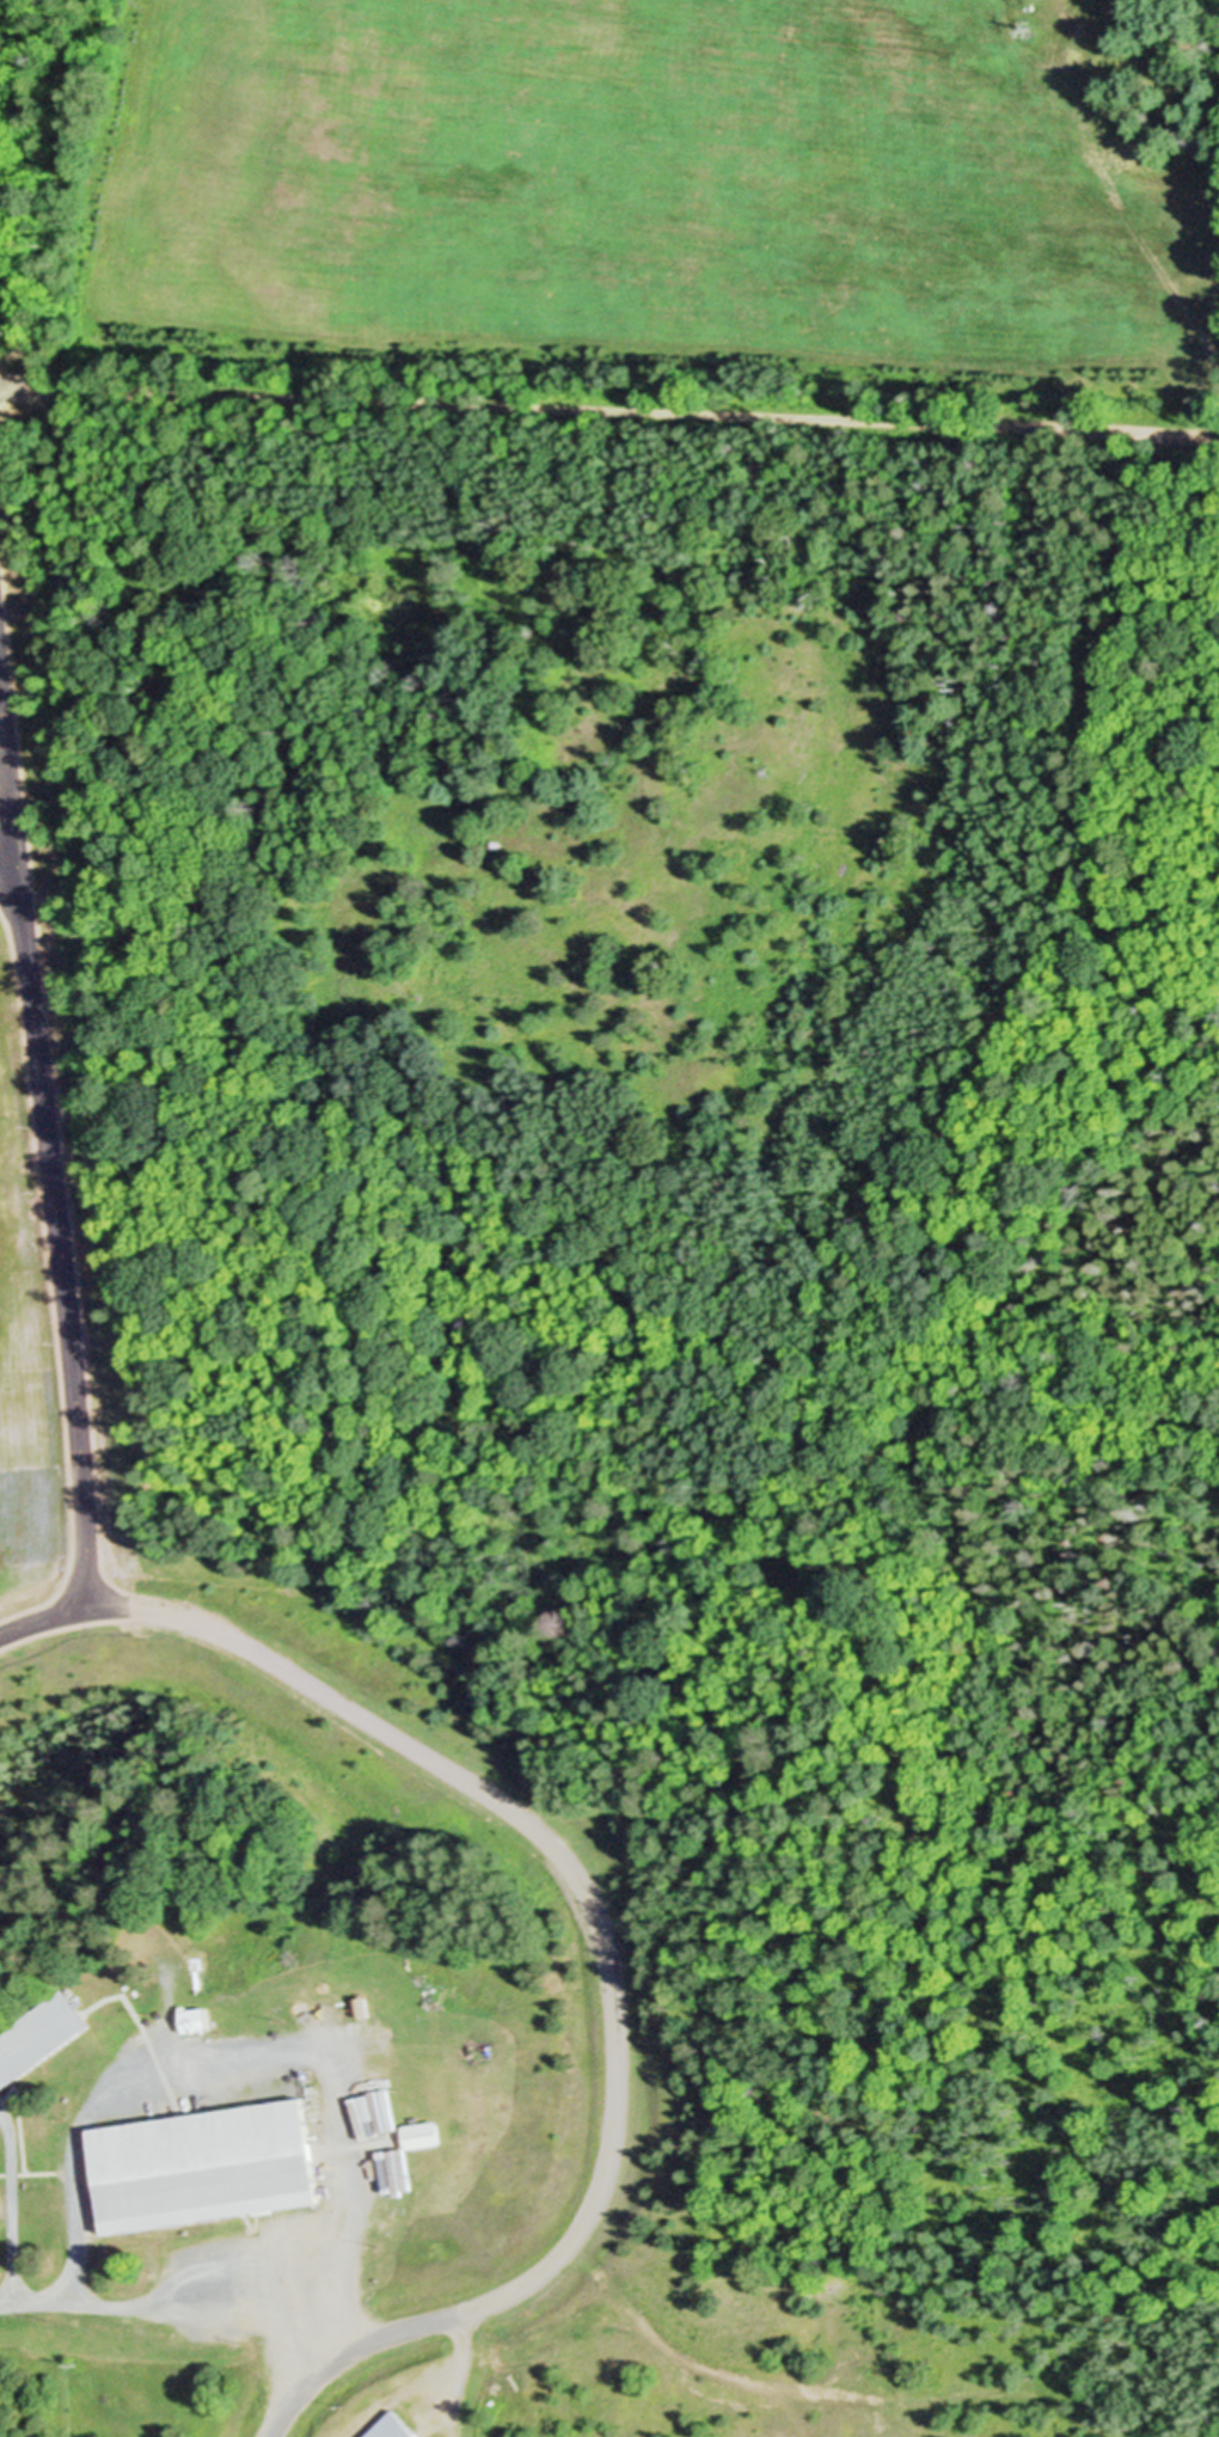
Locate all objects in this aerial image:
road: (607, 406)
road: (1217, 430)
road: (2, 632)
road: (12, 855)
road: (43, 1092)
road: (592, 1916)
road: (263, 2049)
road: (8, 2208)
road: (169, 2316)

